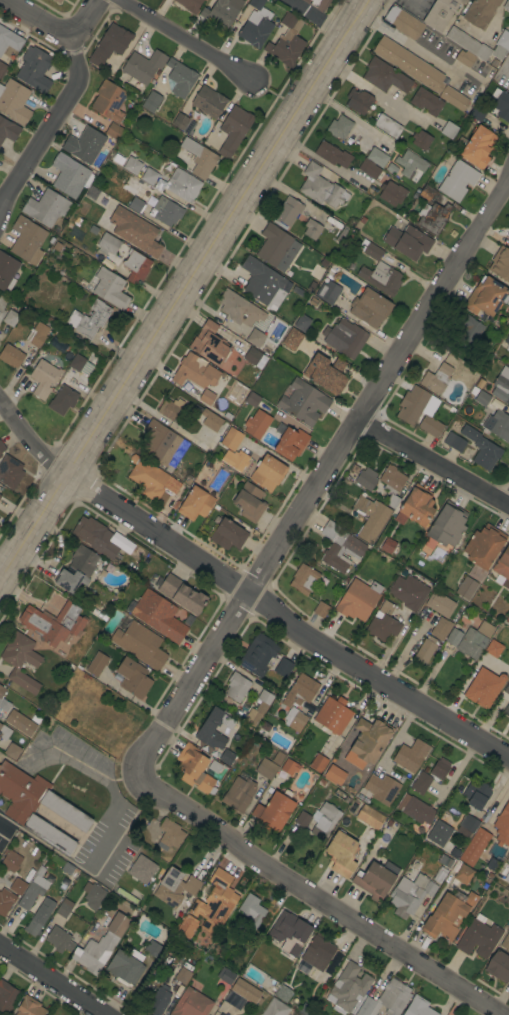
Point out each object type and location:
building: (57, 1)
building: (317, 4)
building: (190, 5)
building: (506, 6)
building: (480, 12)
building: (222, 13)
building: (441, 13)
road: (492, 18)
road: (38, 19)
building: (403, 22)
building: (255, 25)
building: (9, 40)
road: (182, 41)
building: (287, 41)
road: (407, 43)
building: (468, 43)
building: (110, 44)
building: (501, 45)
building: (465, 58)
building: (410, 64)
building: (143, 66)
building: (2, 69)
building: (35, 69)
building: (385, 76)
building: (179, 78)
road: (374, 90)
road: (271, 98)
building: (454, 98)
building: (14, 101)
building: (109, 101)
building: (151, 101)
building: (208, 101)
building: (358, 101)
building: (426, 101)
building: (501, 103)
road: (64, 105)
building: (478, 112)
road: (350, 116)
building: (183, 123)
building: (387, 126)
building: (339, 127)
building: (449, 129)
building: (8, 130)
building: (233, 130)
building: (113, 131)
building: (421, 140)
building: (84, 144)
building: (478, 147)
building: (332, 154)
building: (377, 157)
building: (199, 158)
road: (321, 160)
building: (410, 163)
building: (132, 165)
building: (369, 169)
building: (68, 175)
building: (149, 176)
building: (458, 180)
building: (183, 185)
building: (321, 187)
building: (392, 192)
building: (426, 192)
building: (134, 203)
building: (46, 207)
building: (165, 211)
building: (288, 211)
building: (433, 217)
building: (508, 228)
building: (93, 229)
building: (312, 229)
building: (135, 231)
building: (26, 238)
building: (408, 241)
building: (108, 243)
building: (508, 245)
building: (277, 247)
building: (370, 249)
building: (500, 263)
building: (136, 266)
building: (7, 271)
building: (381, 278)
building: (264, 283)
building: (110, 288)
road: (183, 291)
building: (329, 291)
building: (486, 297)
building: (2, 304)
building: (370, 308)
building: (239, 309)
building: (10, 318)
building: (89, 319)
building: (301, 322)
building: (37, 334)
building: (464, 336)
building: (344, 337)
building: (255, 338)
building: (292, 339)
building: (506, 342)
building: (210, 344)
building: (11, 356)
building: (254, 358)
building: (80, 365)
building: (194, 372)
building: (326, 373)
building: (437, 377)
building: (43, 378)
building: (470, 380)
building: (480, 383)
building: (501, 385)
building: (473, 391)
building: (207, 397)
building: (482, 398)
building: (252, 399)
building: (62, 400)
building: (303, 402)
building: (170, 408)
building: (419, 410)
building: (210, 420)
building: (257, 423)
building: (498, 423)
building: (279, 427)
building: (454, 442)
building: (160, 443)
building: (230, 443)
building: (290, 443)
building: (2, 447)
building: (481, 448)
building: (0, 455)
road: (434, 462)
building: (10, 472)
building: (264, 472)
road: (321, 476)
building: (151, 478)
building: (366, 479)
building: (188, 480)
building: (392, 484)
building: (0, 495)
building: (249, 502)
building: (195, 504)
building: (416, 507)
building: (371, 517)
building: (0, 519)
building: (446, 526)
building: (228, 534)
building: (96, 537)
building: (388, 545)
building: (484, 546)
building: (340, 547)
building: (503, 566)
building: (77, 569)
building: (304, 579)
road: (1, 580)
building: (466, 587)
road: (247, 591)
building: (409, 592)
building: (182, 594)
building: (356, 601)
building: (440, 604)
building: (321, 609)
building: (158, 615)
building: (507, 619)
building: (53, 623)
building: (383, 623)
building: (441, 628)
building: (485, 629)
building: (453, 637)
building: (471, 643)
building: (140, 644)
building: (493, 647)
building: (424, 651)
building: (258, 654)
building: (21, 661)
building: (96, 664)
building: (283, 668)
building: (133, 678)
building: (236, 686)
building: (483, 687)
building: (507, 689)
building: (3, 700)
building: (299, 700)
building: (258, 708)
building: (506, 710)
building: (333, 715)
building: (20, 722)
building: (212, 729)
building: (4, 732)
building: (370, 739)
building: (12, 751)
building: (410, 755)
building: (227, 757)
building: (277, 757)
road: (6, 758)
building: (318, 763)
building: (290, 767)
building: (194, 768)
building: (266, 768)
building: (440, 768)
building: (333, 774)
building: (421, 783)
building: (381, 789)
building: (239, 794)
building: (476, 794)
building: (21, 808)
building: (415, 809)
building: (274, 811)
building: (370, 817)
building: (303, 819)
road: (110, 820)
building: (324, 820)
road: (7, 824)
building: (467, 825)
building: (502, 825)
building: (439, 832)
building: (169, 835)
building: (148, 837)
building: (473, 847)
building: (342, 853)
building: (11, 861)
building: (444, 861)
building: (508, 863)
building: (67, 868)
building: (141, 869)
building: (463, 874)
building: (374, 881)
building: (17, 886)
building: (175, 887)
building: (33, 889)
building: (410, 894)
building: (93, 895)
building: (126, 895)
road: (315, 898)
building: (424, 900)
building: (5, 901)
building: (195, 907)
building: (218, 907)
building: (64, 908)
building: (251, 909)
building: (448, 914)
building: (33, 927)
building: (186, 927)
building: (290, 932)
building: (479, 938)
building: (59, 940)
building: (505, 942)
building: (100, 945)
building: (152, 948)
building: (318, 951)
building: (164, 963)
building: (498, 966)
building: (125, 967)
building: (330, 968)
building: (182, 975)
building: (226, 976)
road: (53, 979)
building: (347, 988)
building: (246, 991)
building: (283, 993)
building: (7, 996)
building: (233, 999)
building: (386, 999)
building: (158, 1001)
building: (191, 1003)
building: (29, 1007)
building: (418, 1007)
building: (275, 1008)
building: (221, 1014)
building: (228, 1014)

